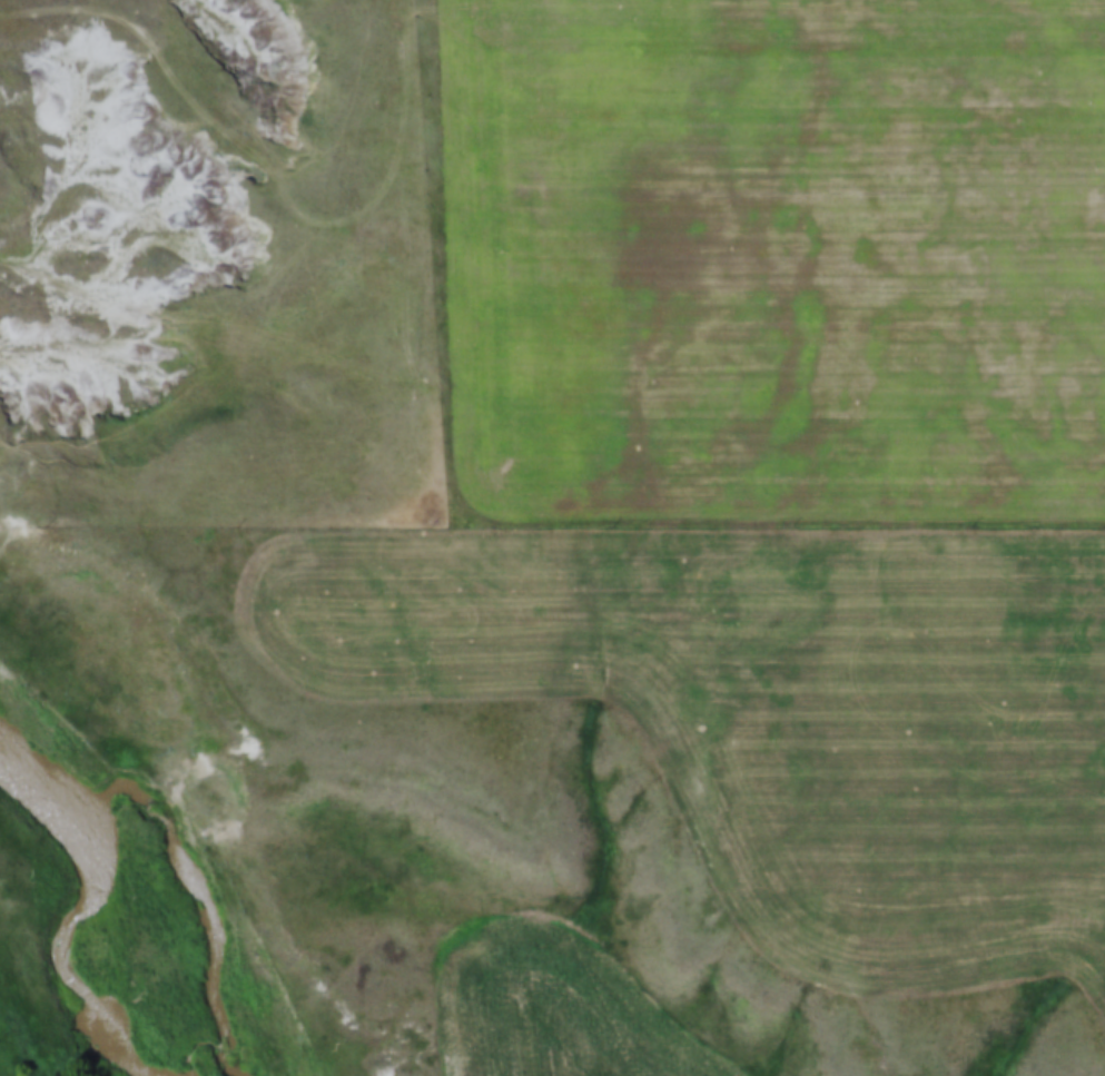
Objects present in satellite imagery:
river: (65, 914)

